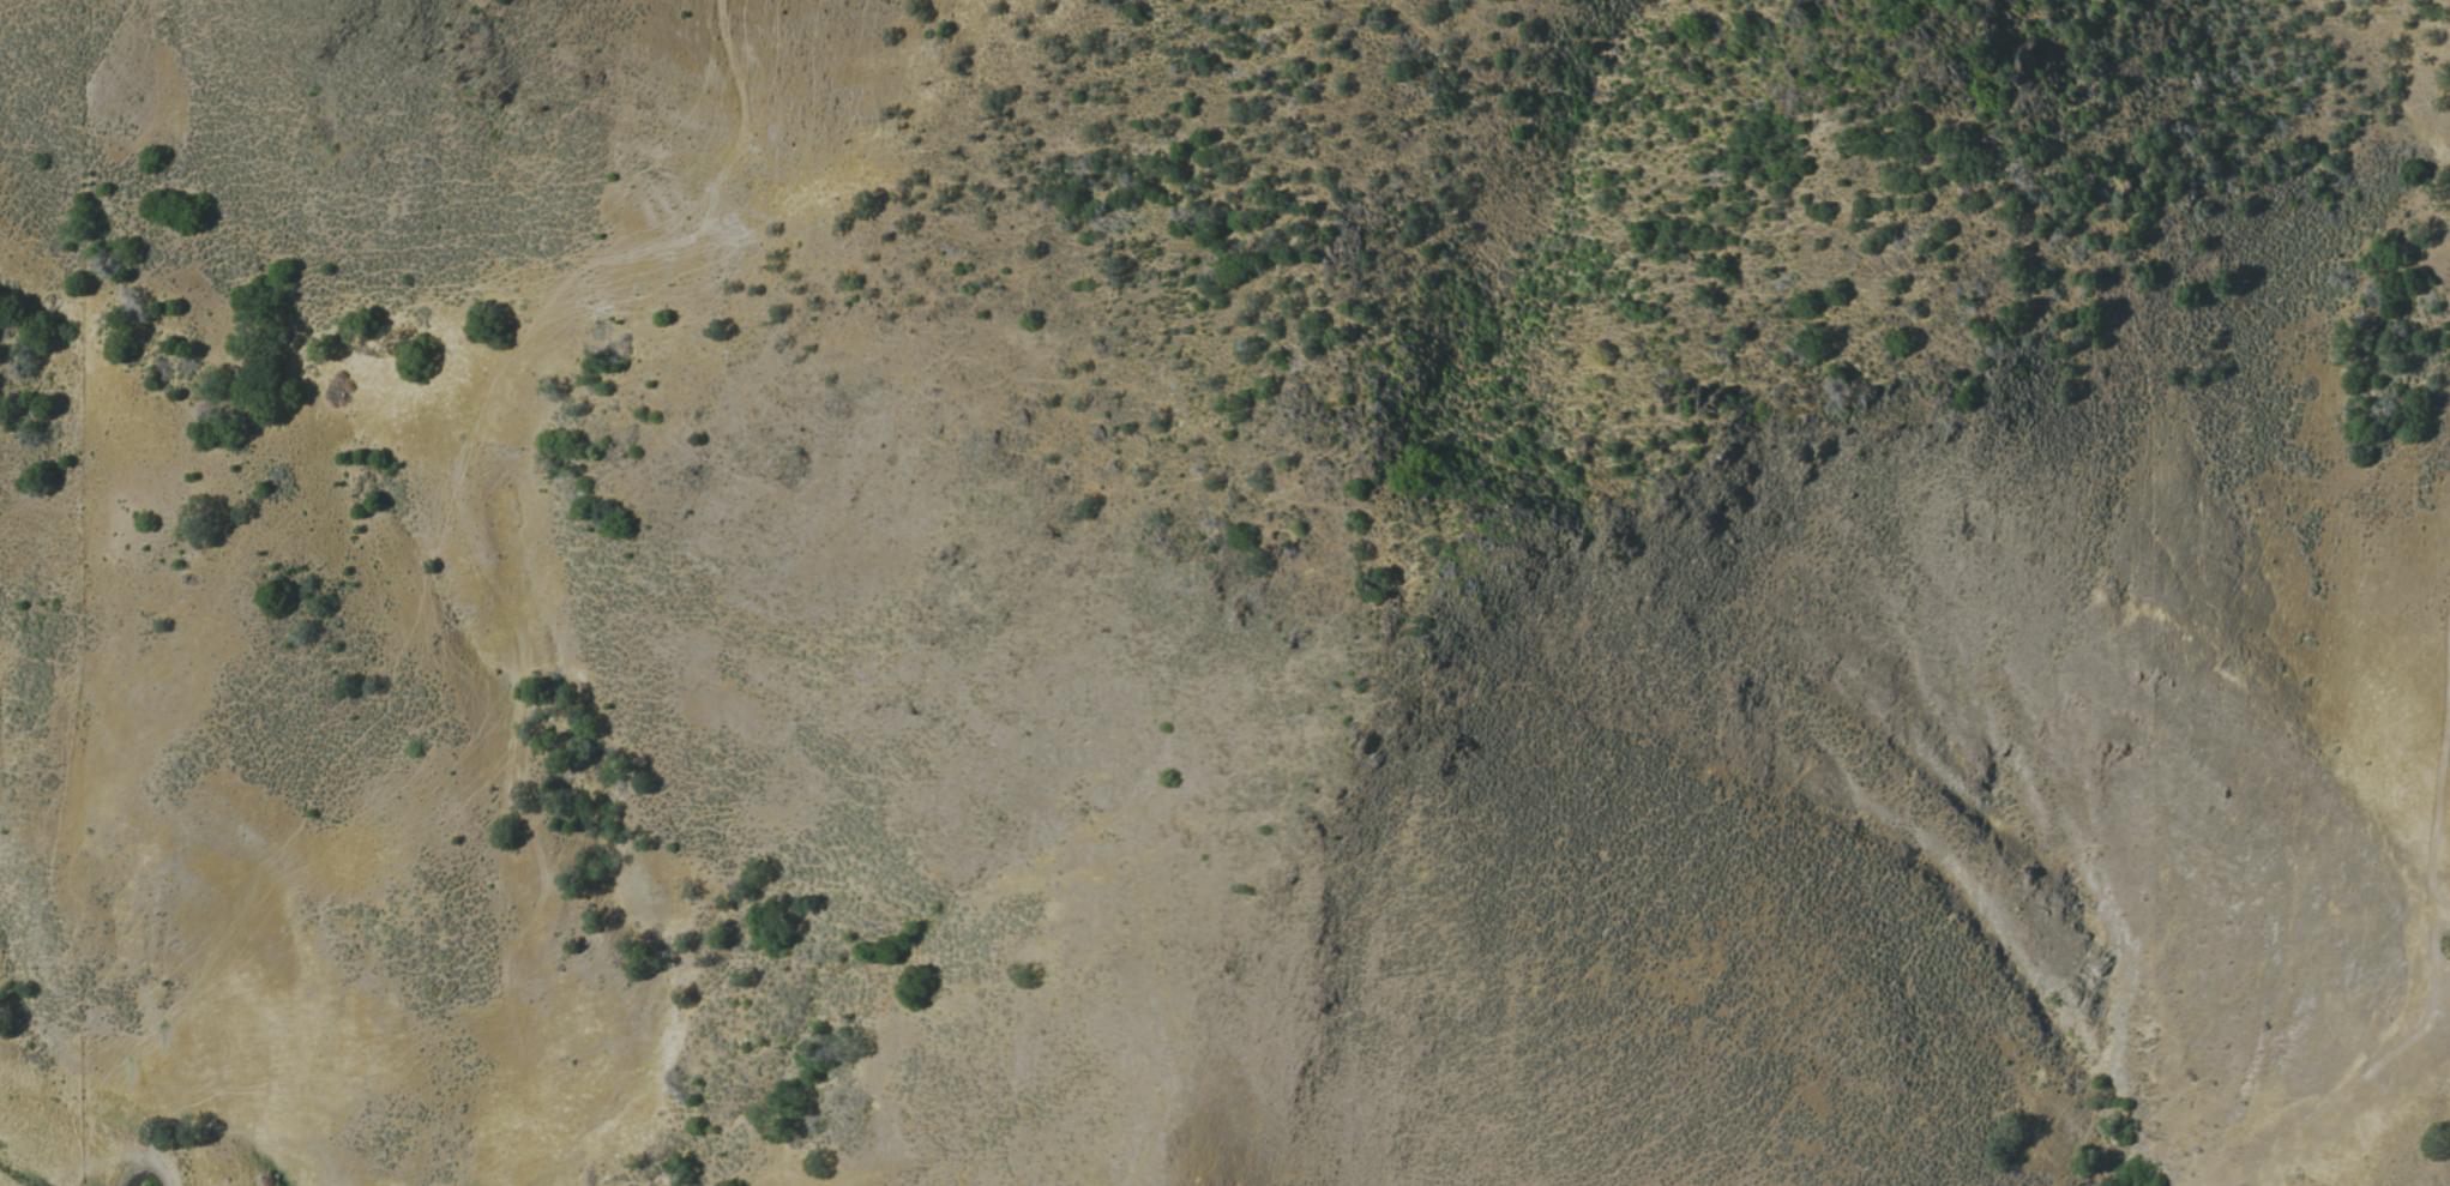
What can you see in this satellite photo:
road: (2442, 748)
road: (2438, 895)
road: (2422, 1027)

